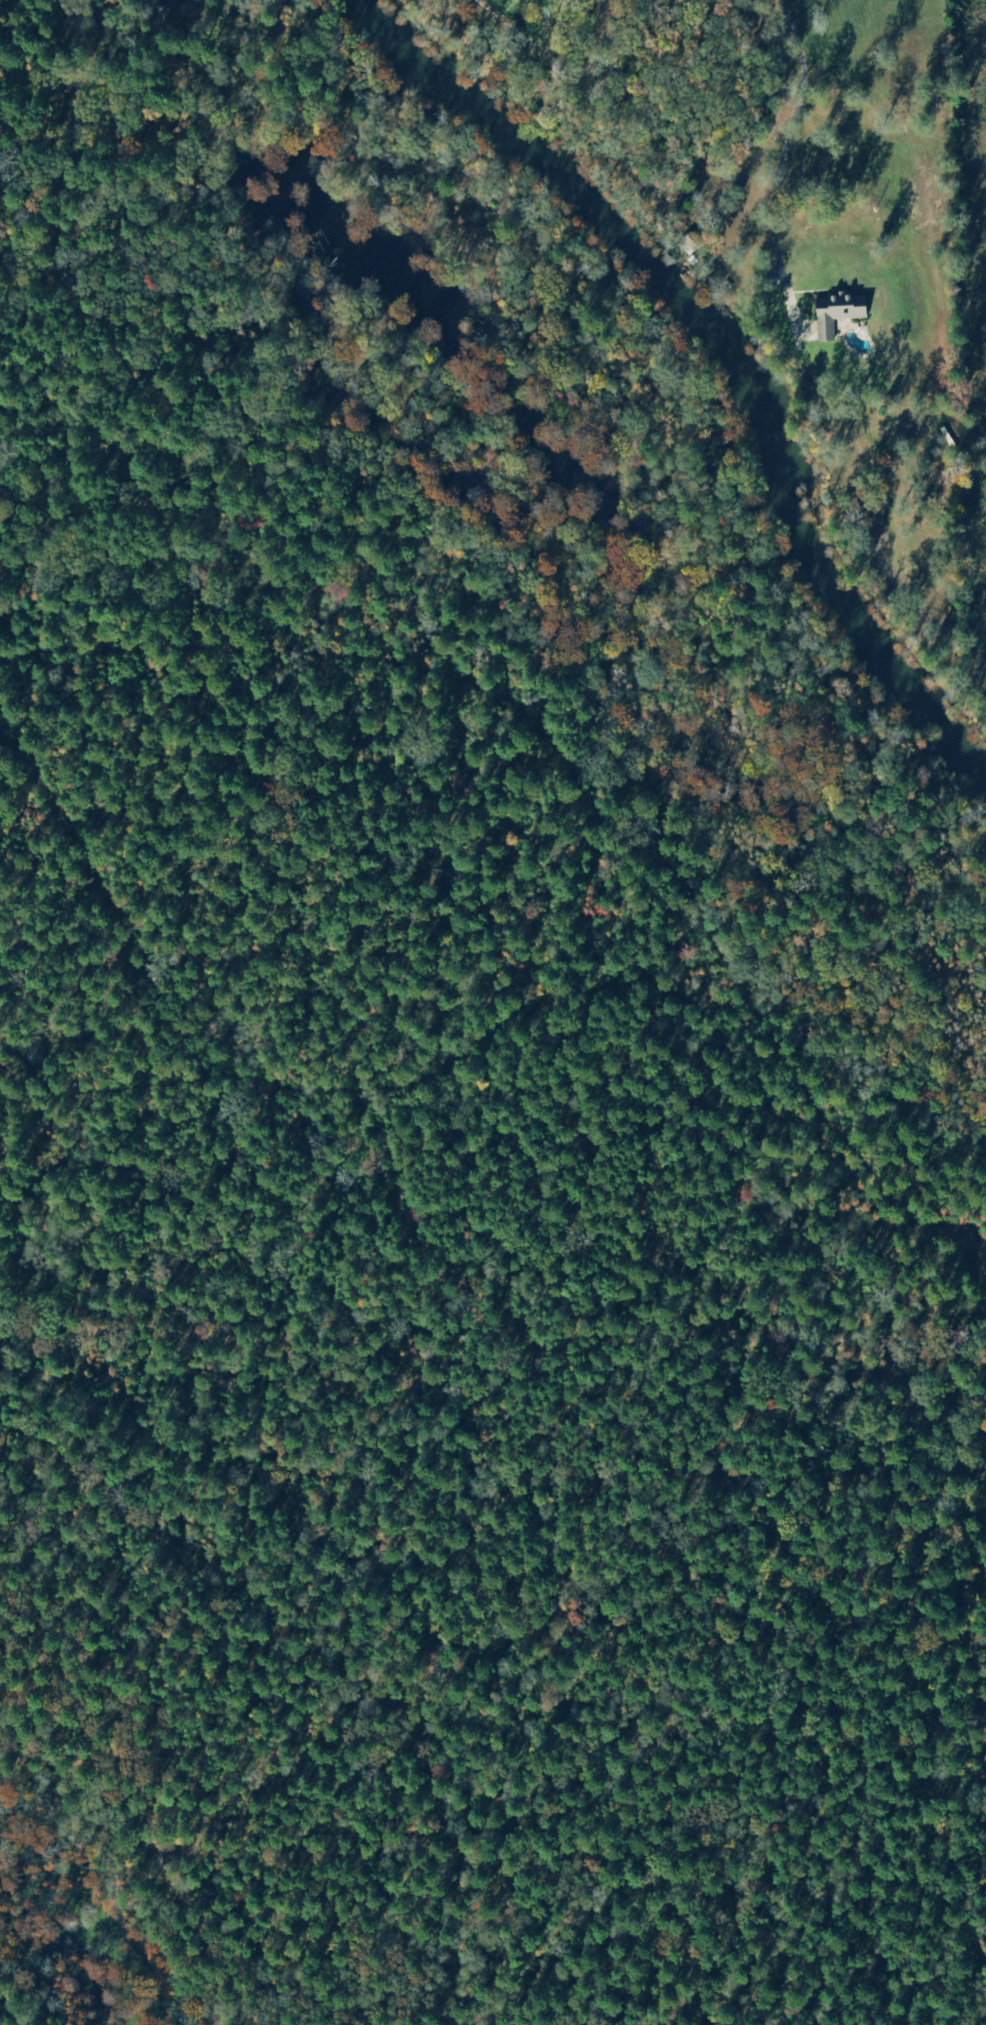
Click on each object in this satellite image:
railway: (652, 191)
building: (842, 313)
river: (726, 350)

